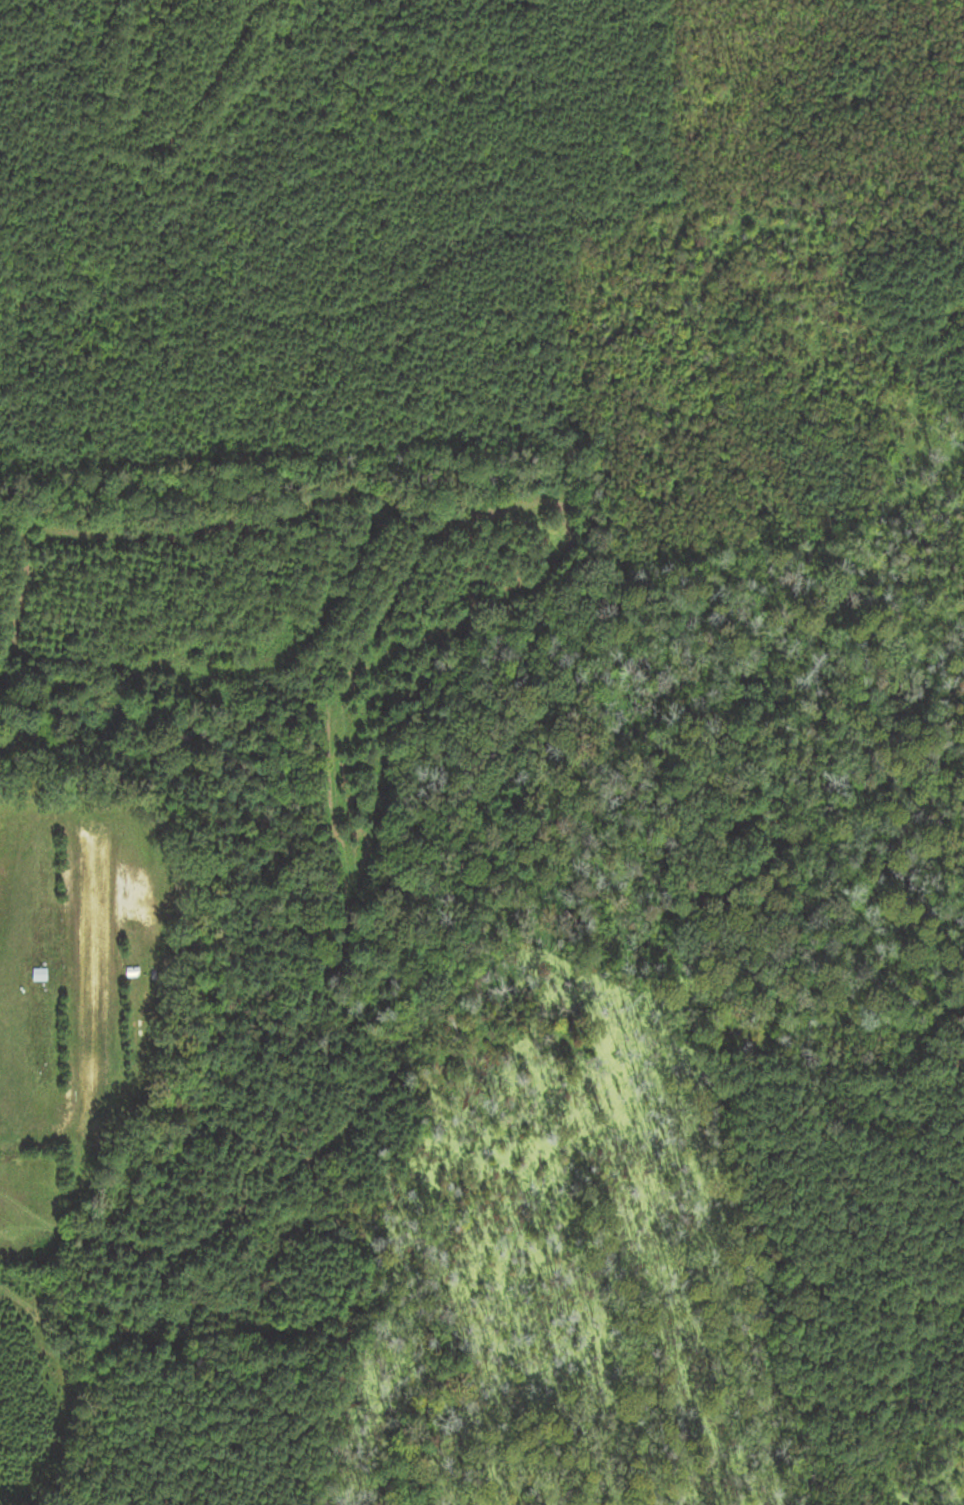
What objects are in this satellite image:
building: (39, 975)

